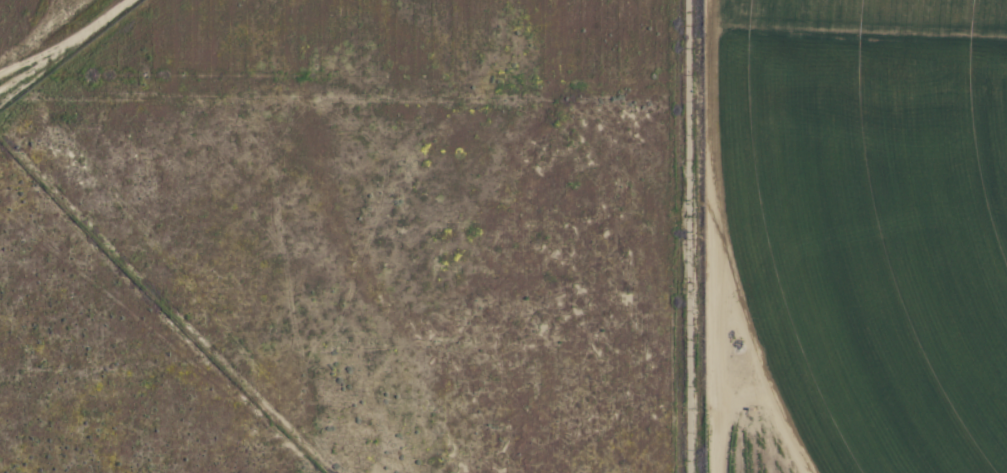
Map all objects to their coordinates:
crop: (864, 226)

